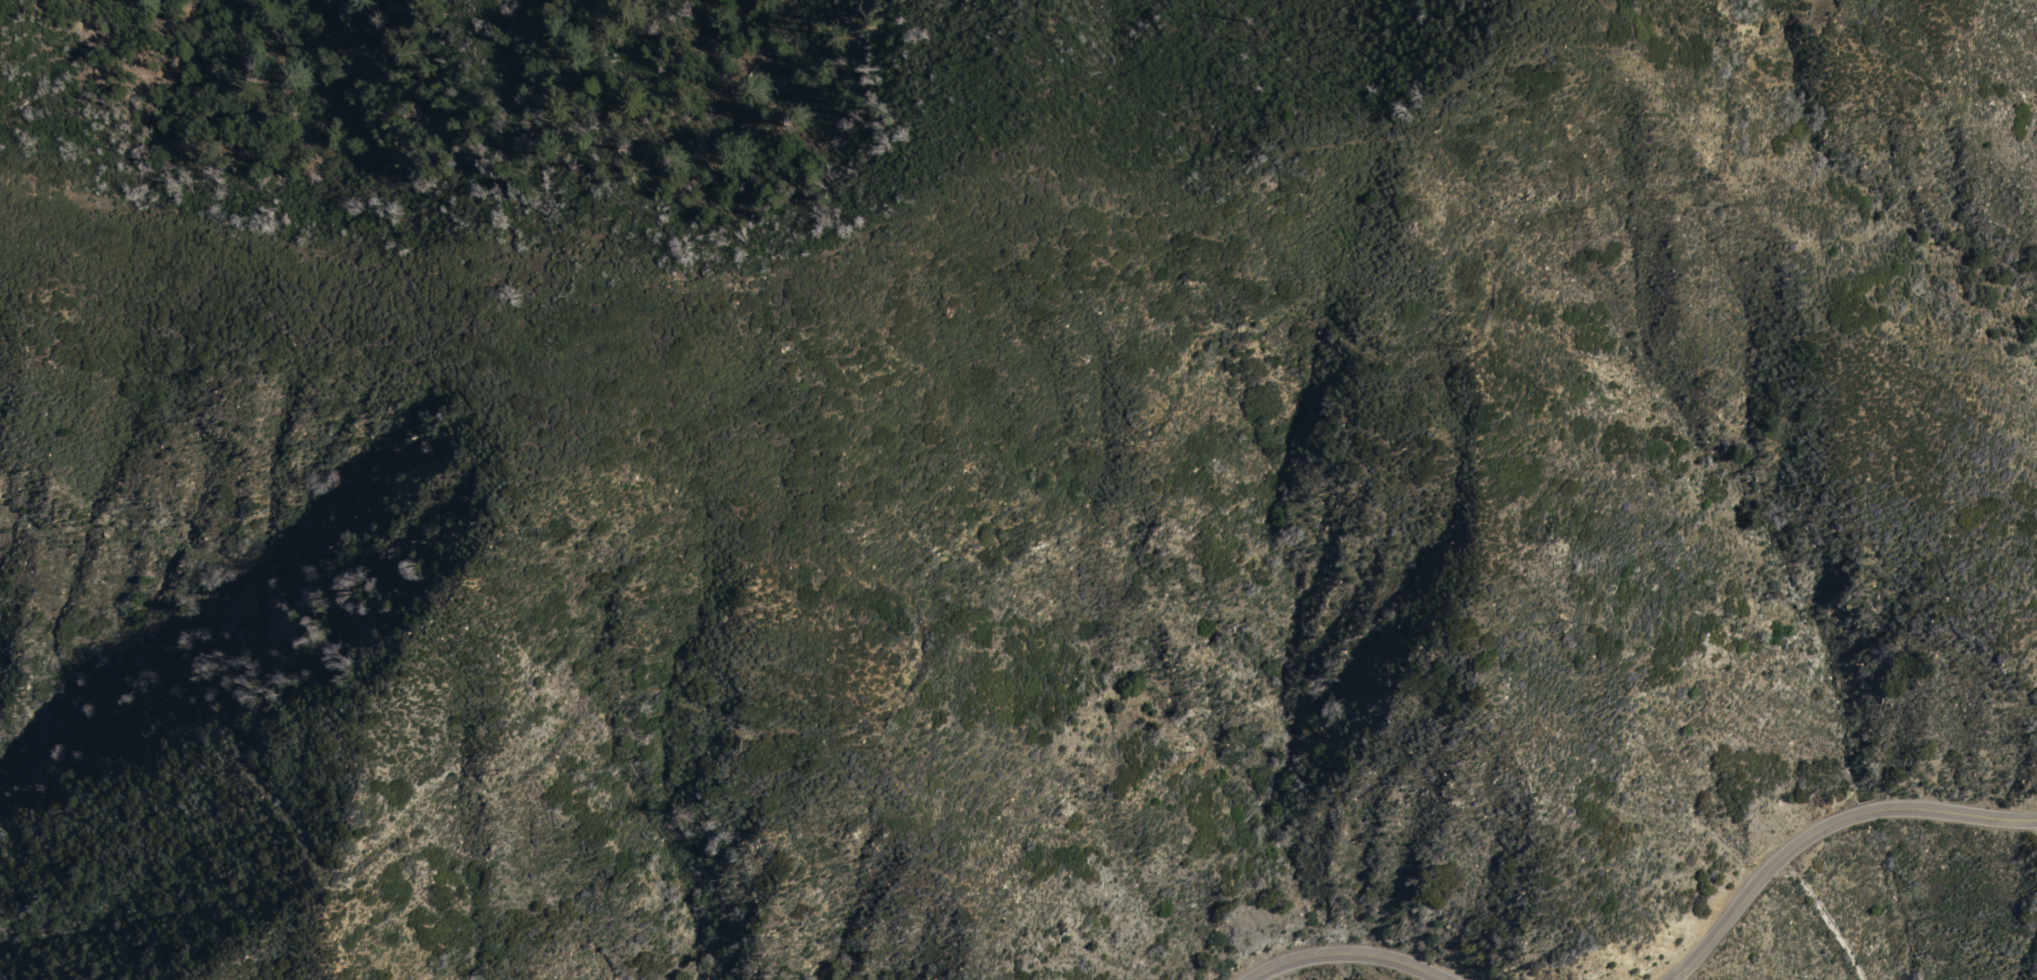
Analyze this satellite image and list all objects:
road: (1235, 337)
road: (281, 810)
parking lot: (2034, 826)
road: (1831, 831)
road: (1357, 955)

